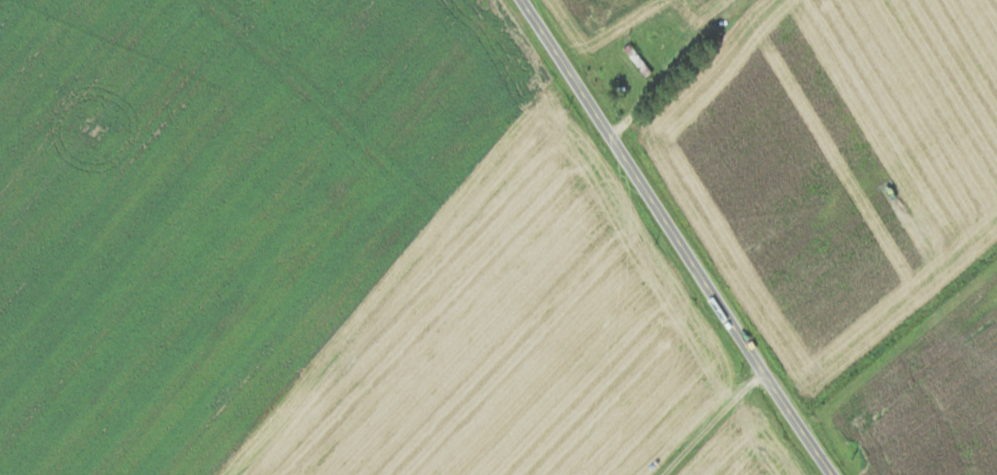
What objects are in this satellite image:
road: (675, 238)

